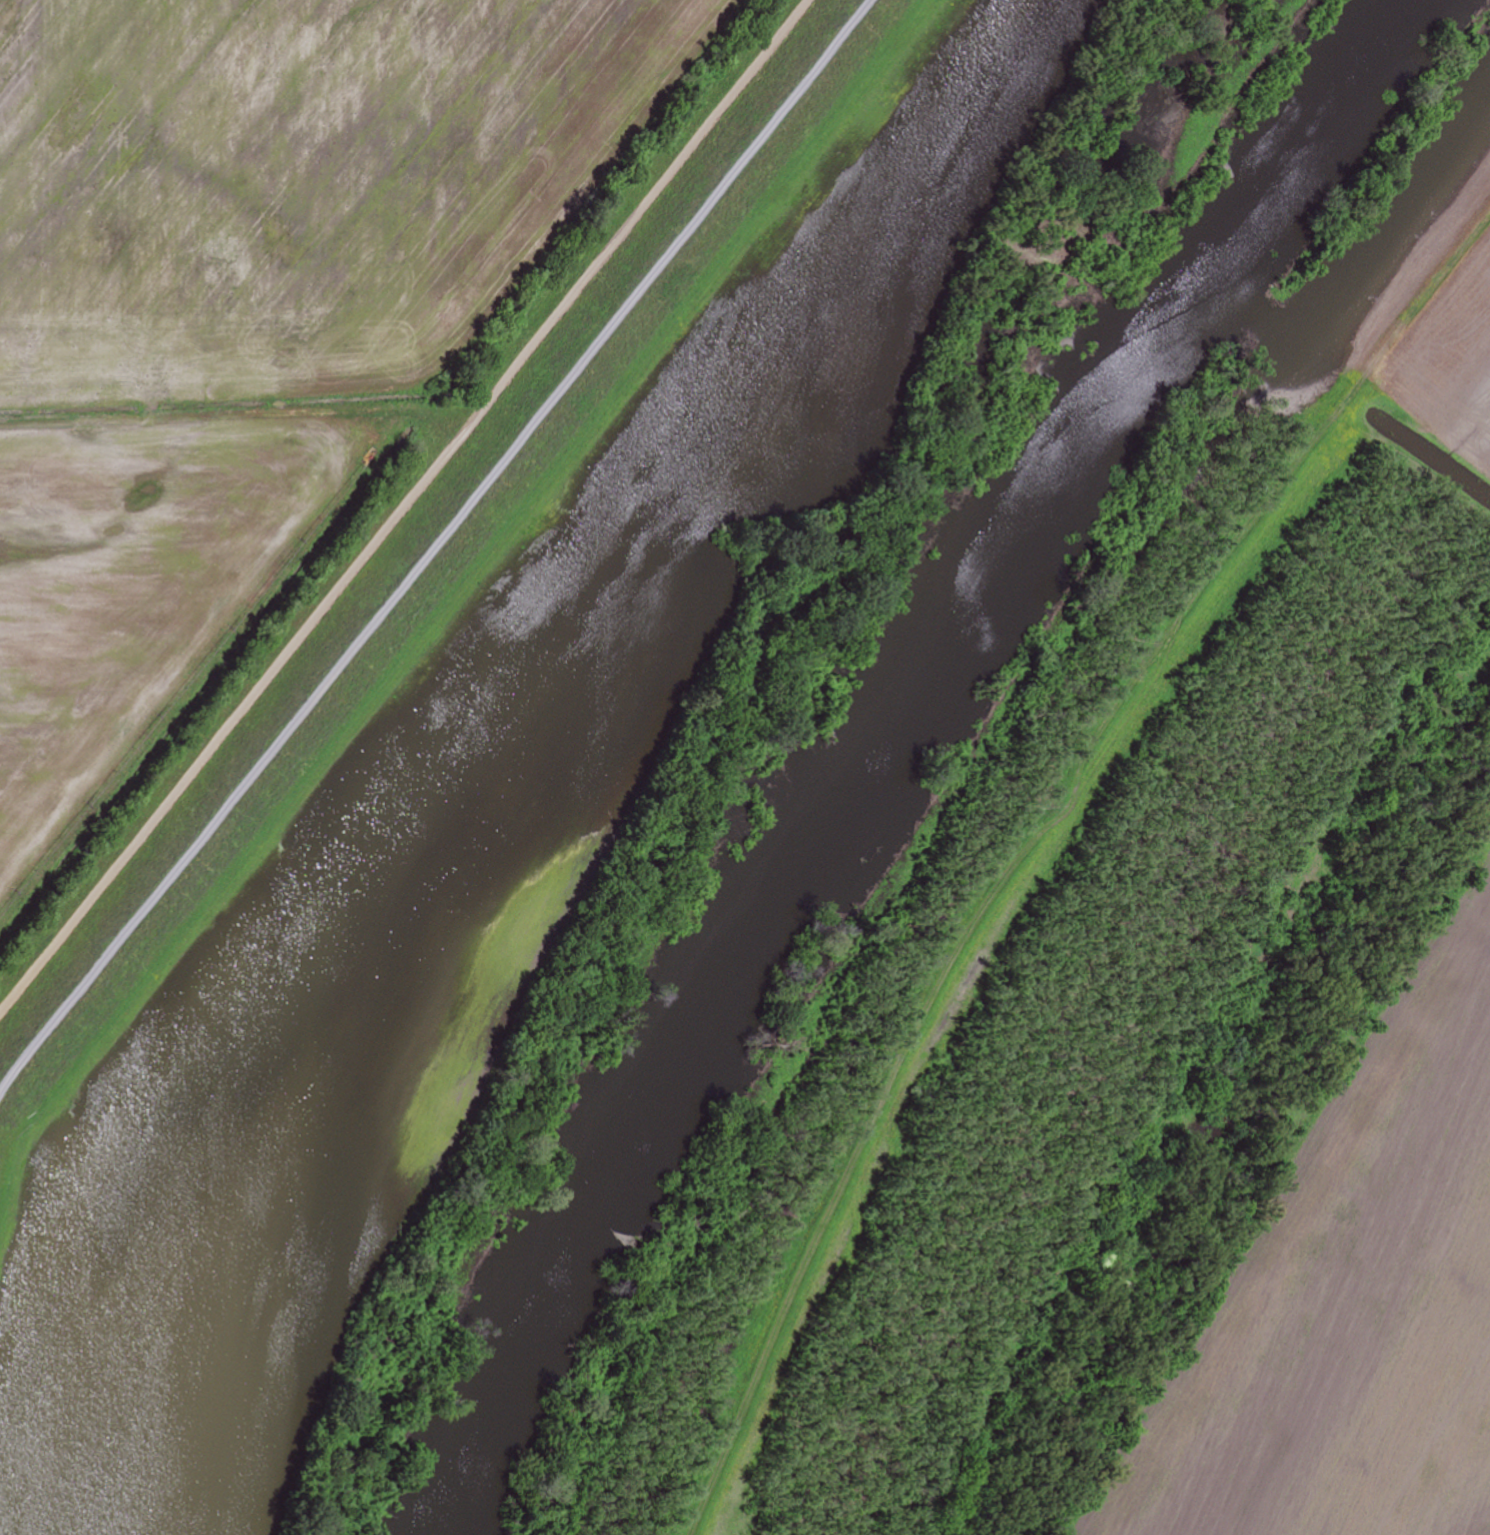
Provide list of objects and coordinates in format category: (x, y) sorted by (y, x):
road: (404, 505)
road: (433, 545)
river: (884, 746)
road: (1434, 1441)

